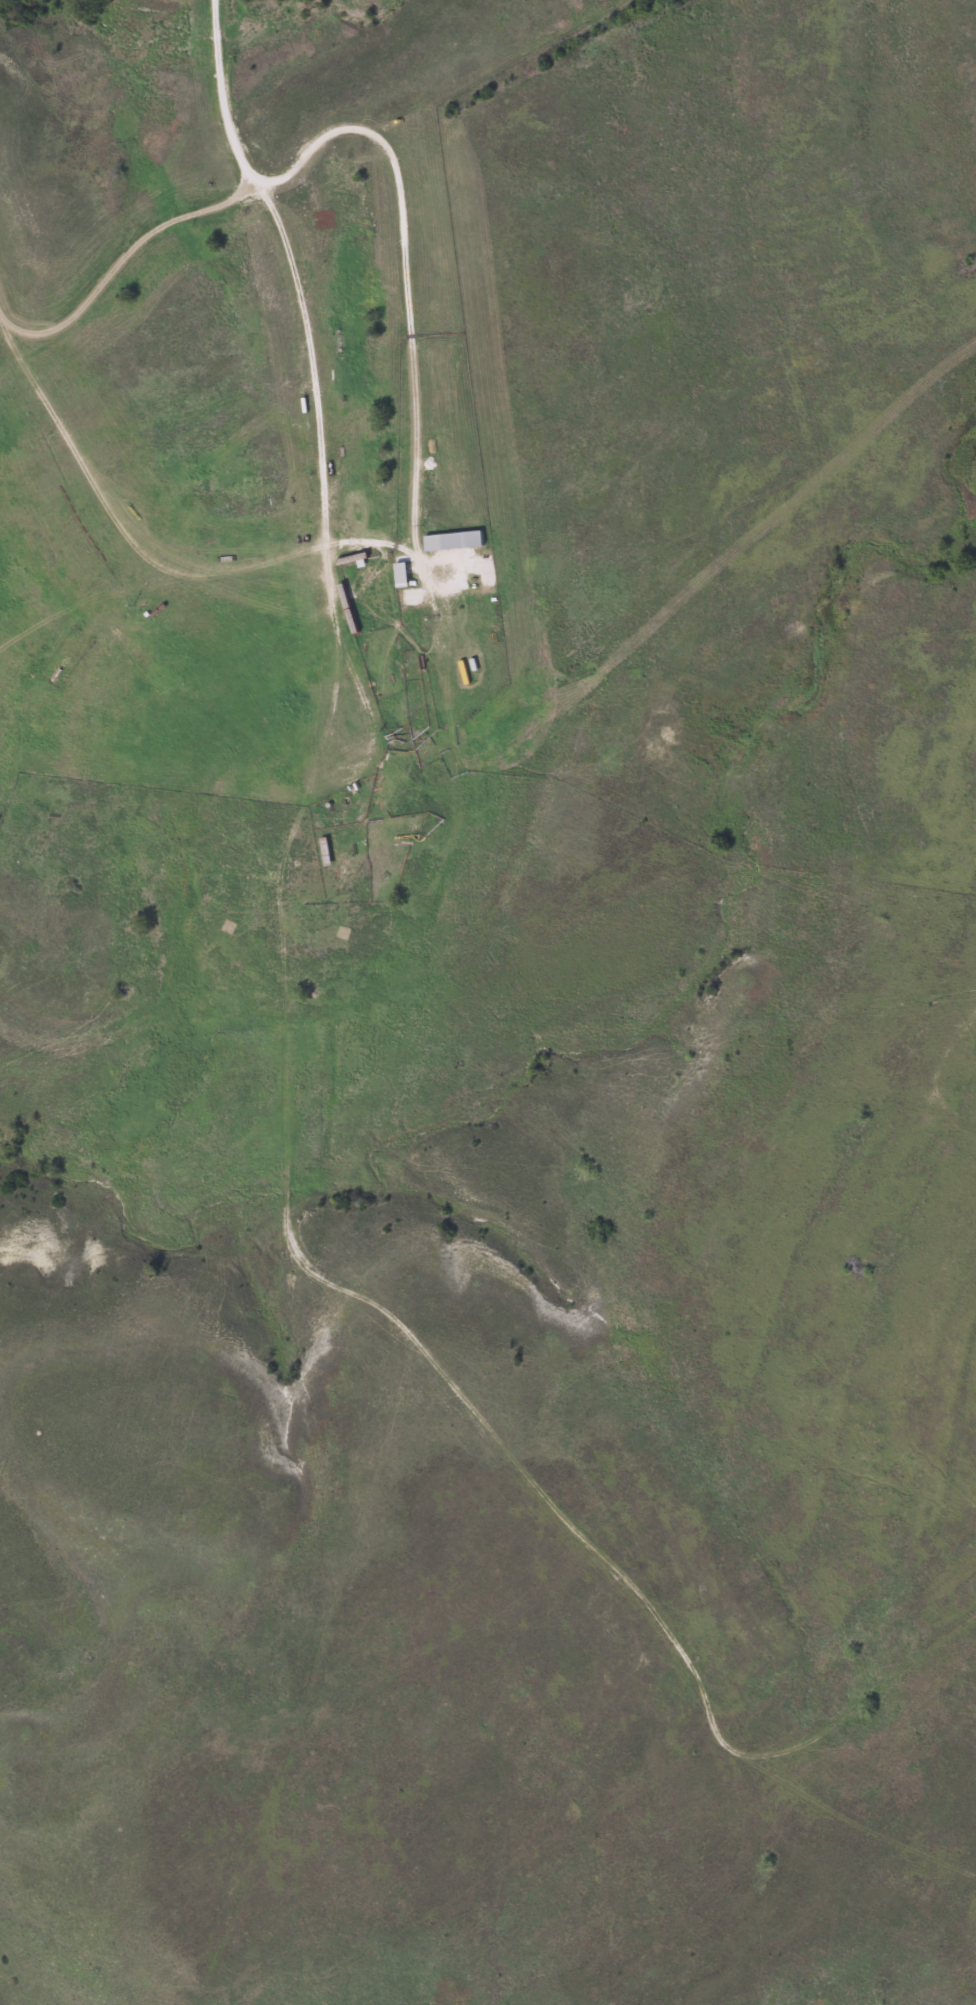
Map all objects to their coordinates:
road: (300, 315)
road: (368, 541)
building: (449, 541)
building: (397, 576)
road: (330, 727)
building: (321, 853)
road: (393, 941)
road: (866, 1706)

